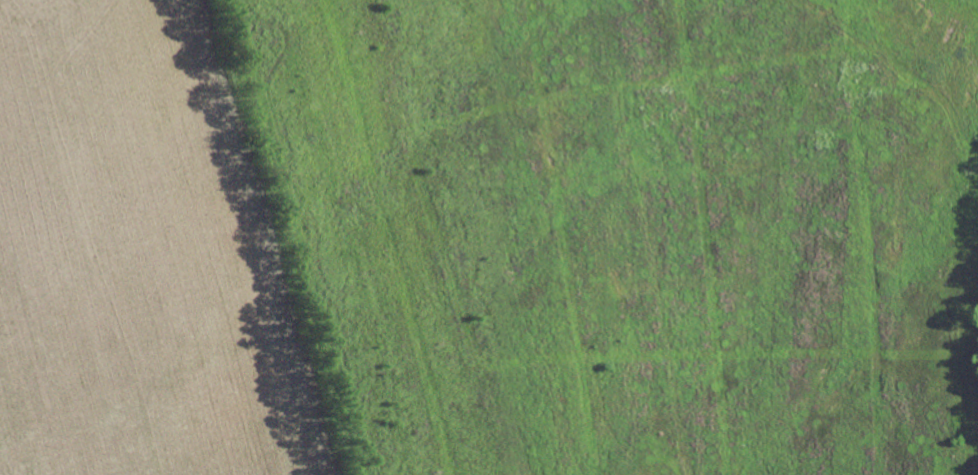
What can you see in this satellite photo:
road: (285, 238)

